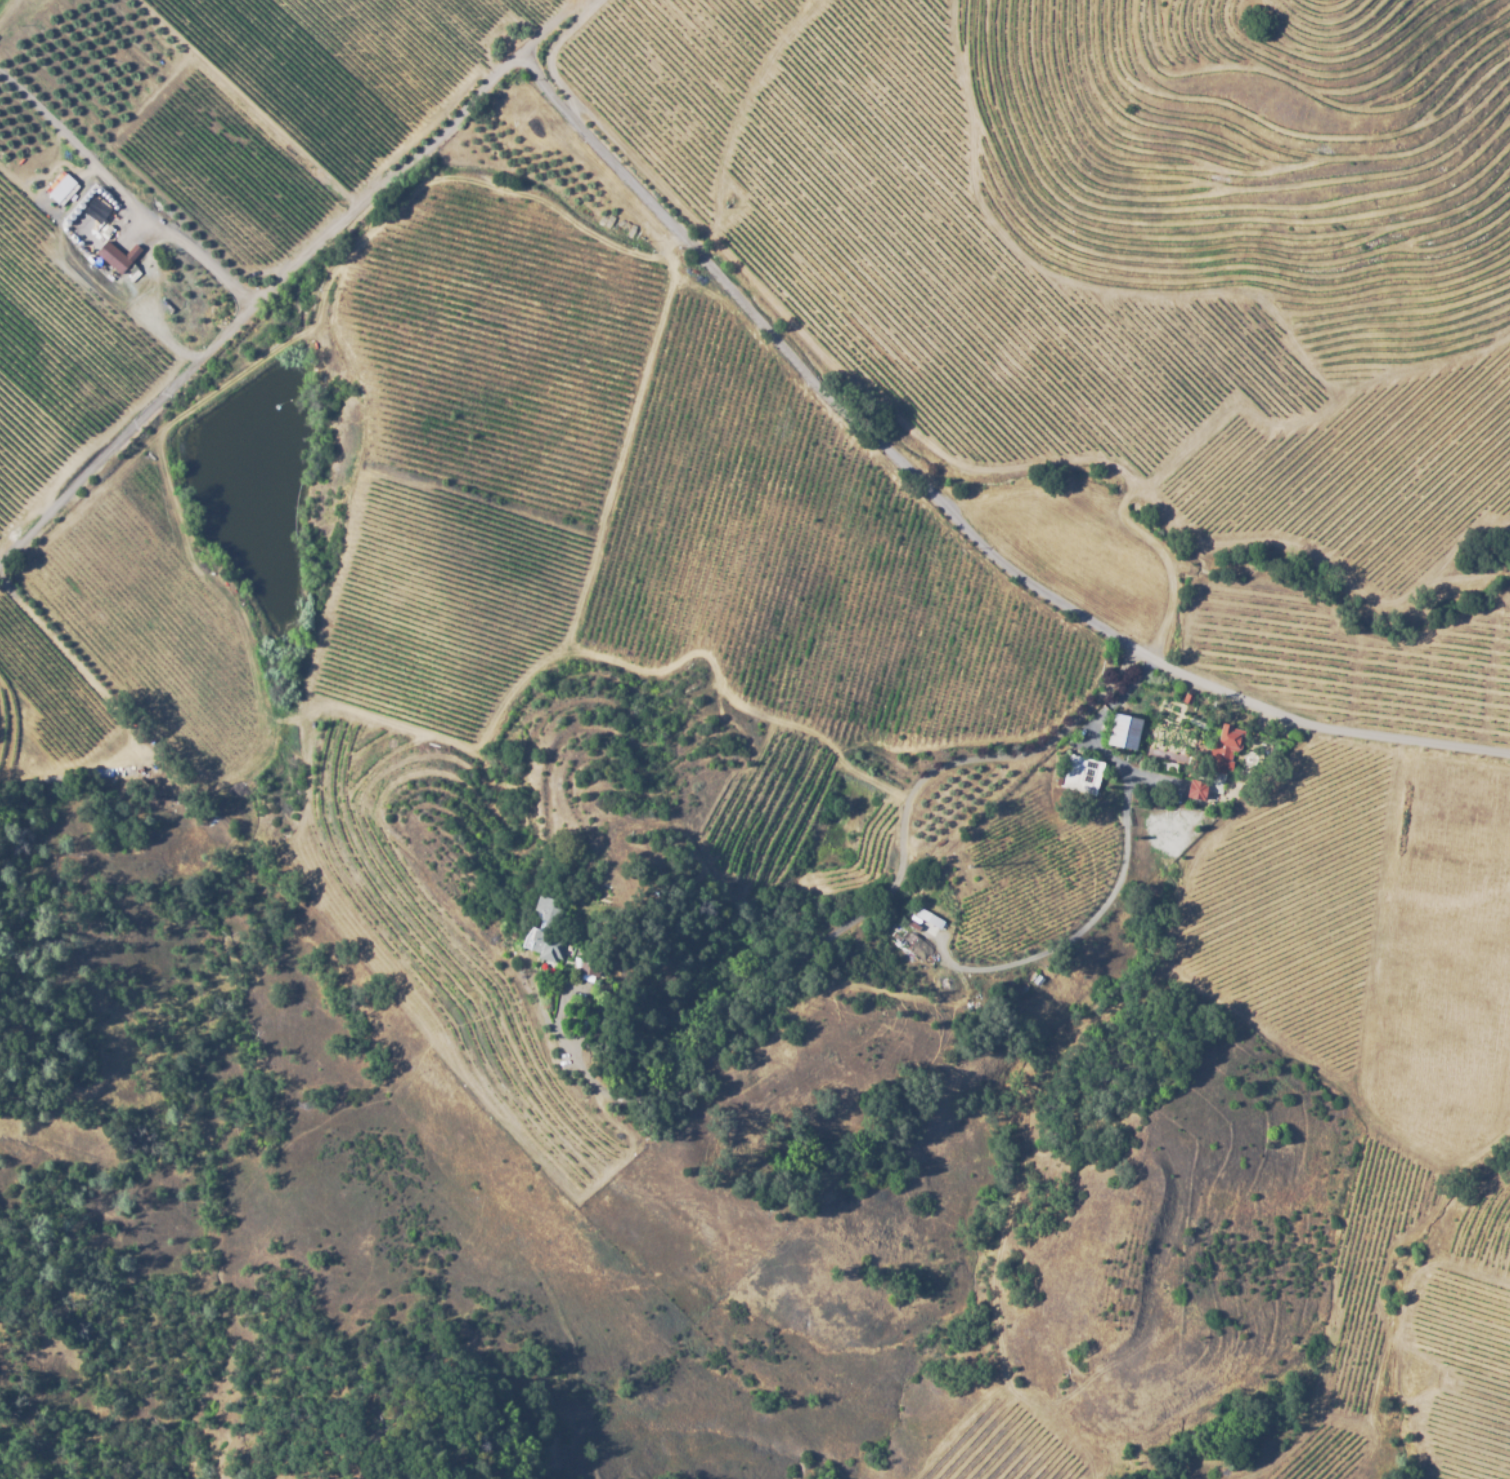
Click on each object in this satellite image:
building: (59, 188)
building: (99, 189)
building: (76, 204)
road: (699, 251)
building: (115, 258)
building: (131, 270)
building: (1185, 699)
building: (1122, 731)
building: (1226, 748)
building: (1167, 766)
building: (1081, 774)
building: (1187, 790)
building: (1197, 790)
building: (163, 797)
building: (528, 910)
building: (927, 916)
building: (546, 926)
building: (529, 948)
building: (585, 968)
building: (1036, 980)

